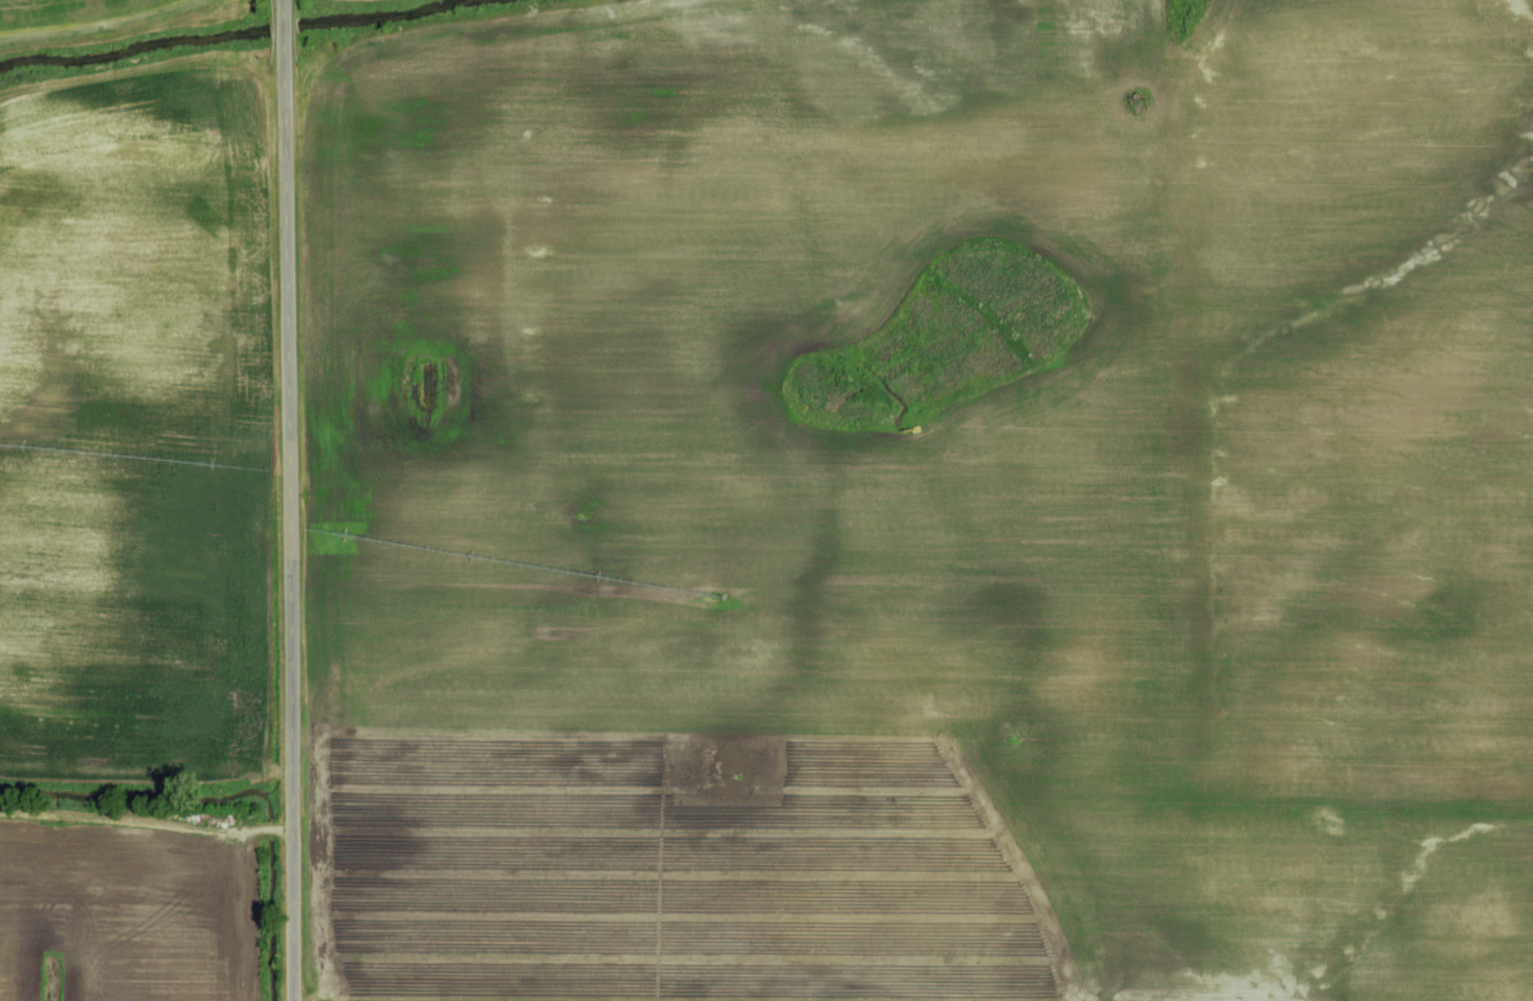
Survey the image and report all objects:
road: (288, 500)

